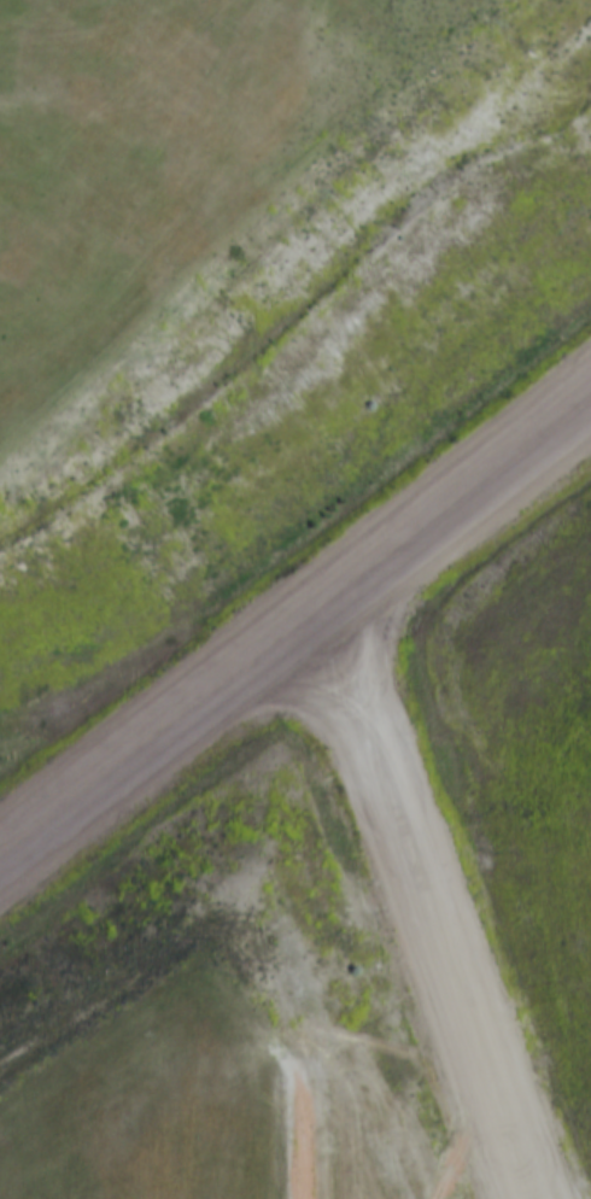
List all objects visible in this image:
quarry: (295, 599)

